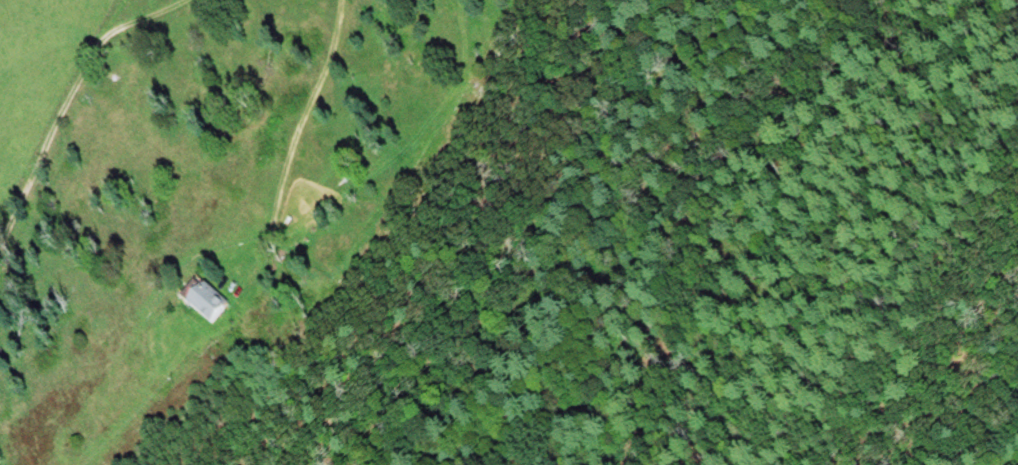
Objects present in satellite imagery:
road: (48, 23)
road: (66, 105)
road: (292, 145)
building: (206, 299)

